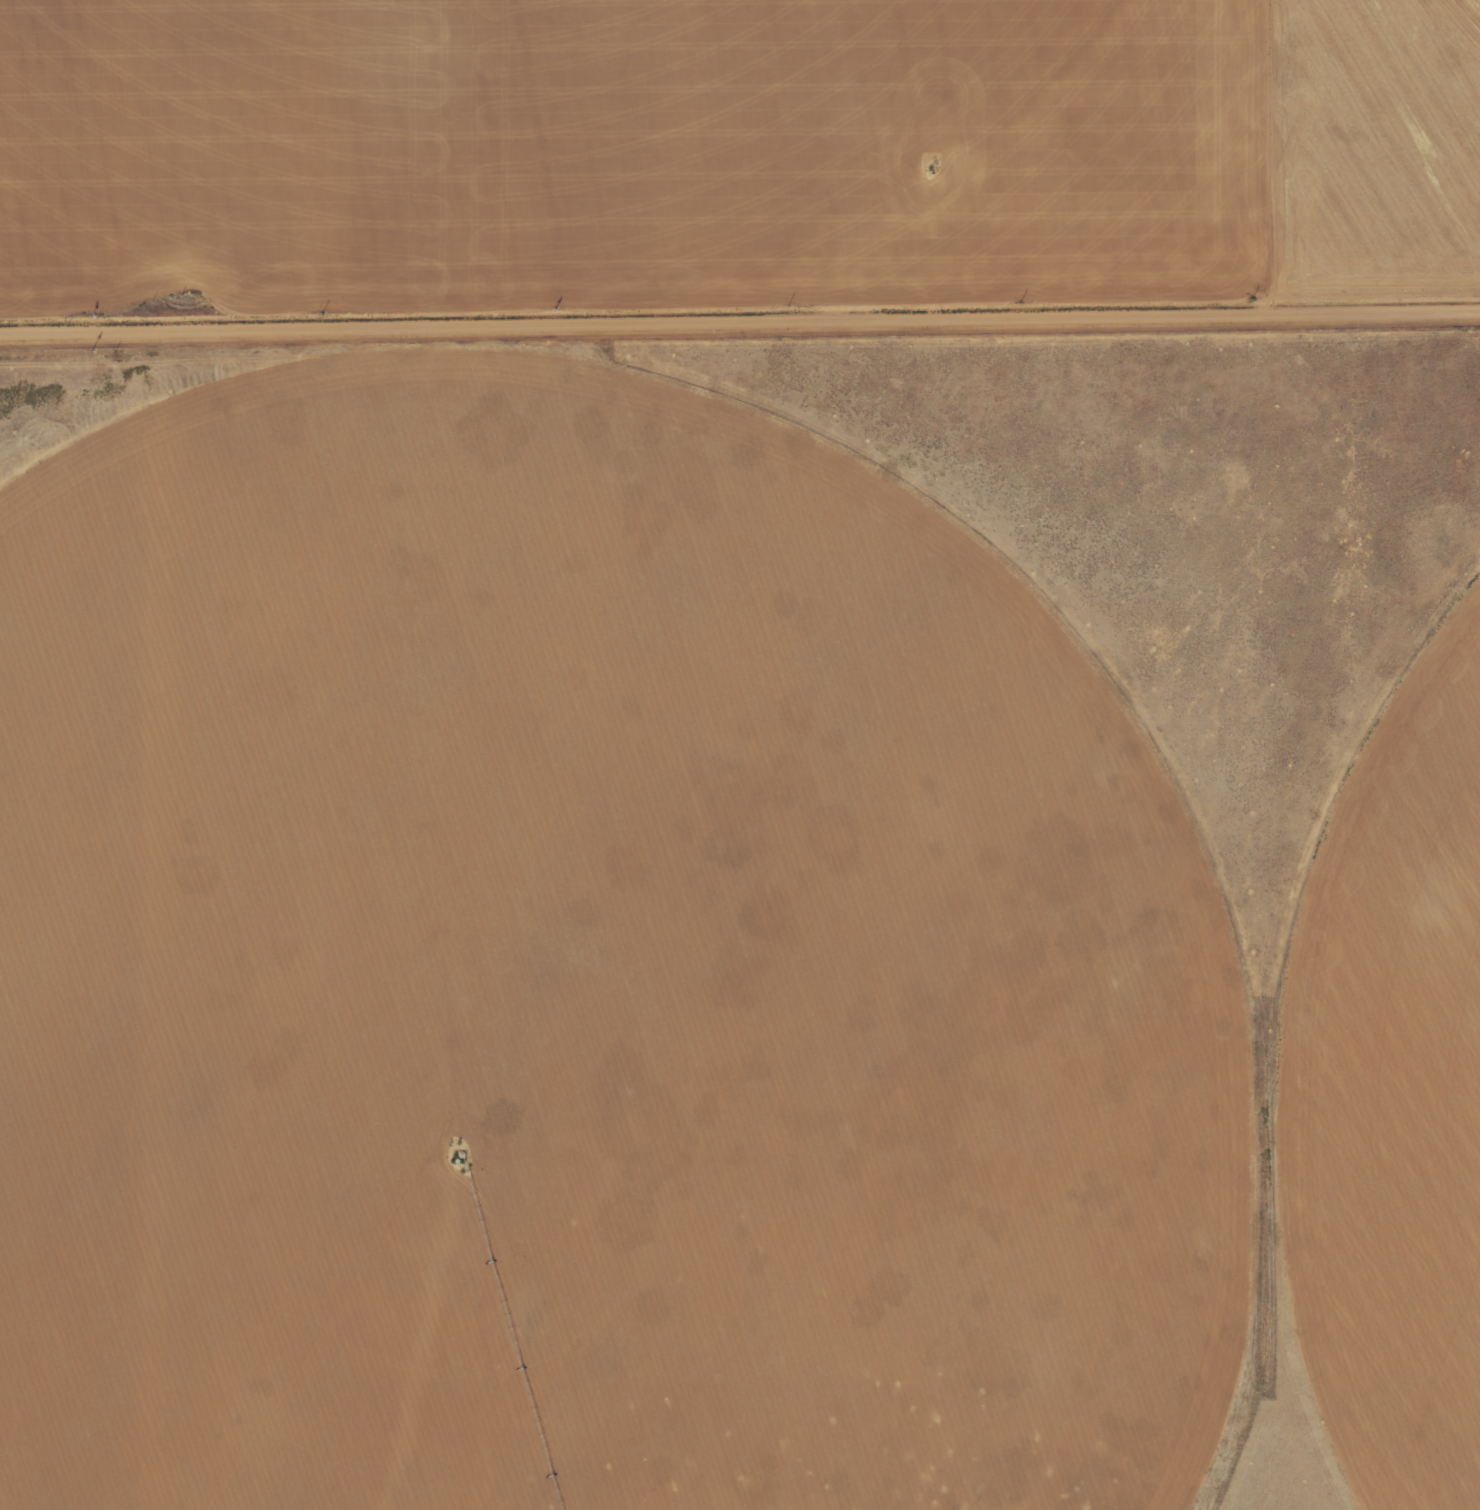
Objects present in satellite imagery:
road: (740, 319)

